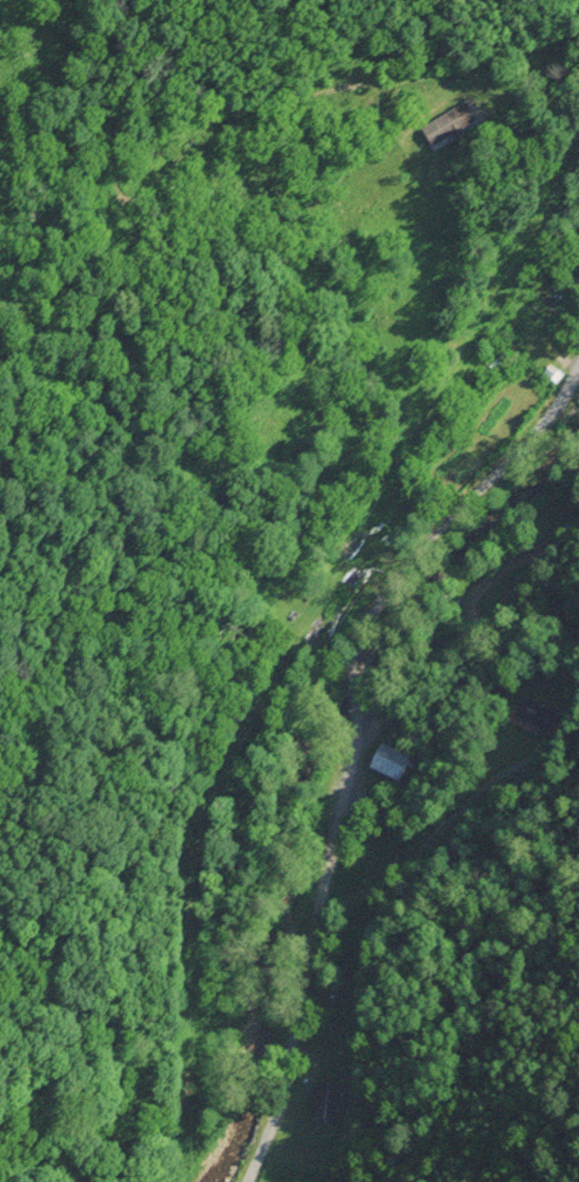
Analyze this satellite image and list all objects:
road: (536, 74)
building: (448, 122)
road: (222, 123)
building: (535, 310)
building: (552, 374)
road: (456, 507)
road: (567, 559)
road: (354, 676)
building: (539, 716)
building: (390, 762)
road: (425, 849)
road: (312, 936)
building: (326, 1101)

